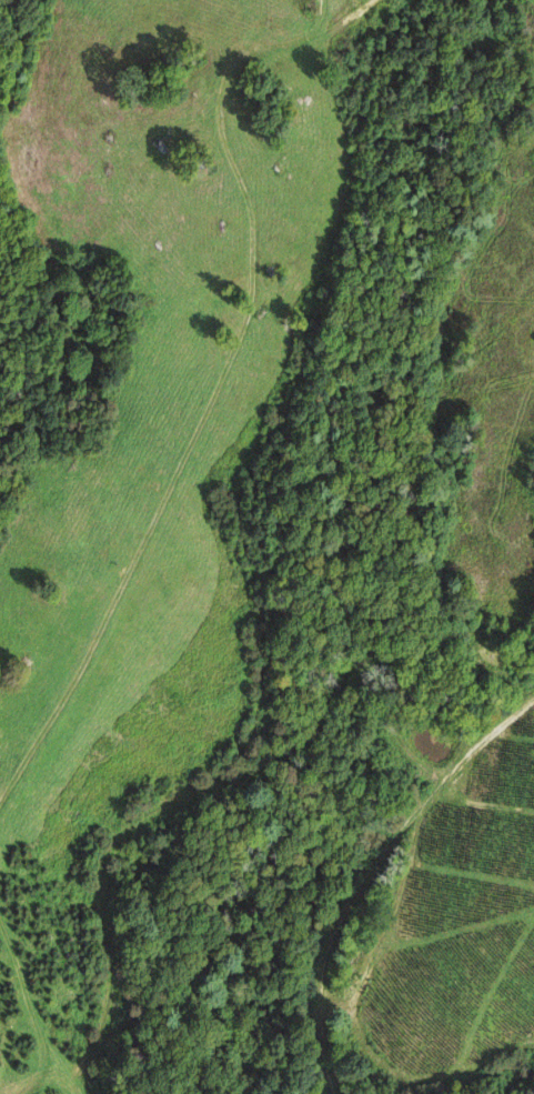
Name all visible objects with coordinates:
road: (532, 1)
road: (221, 377)

